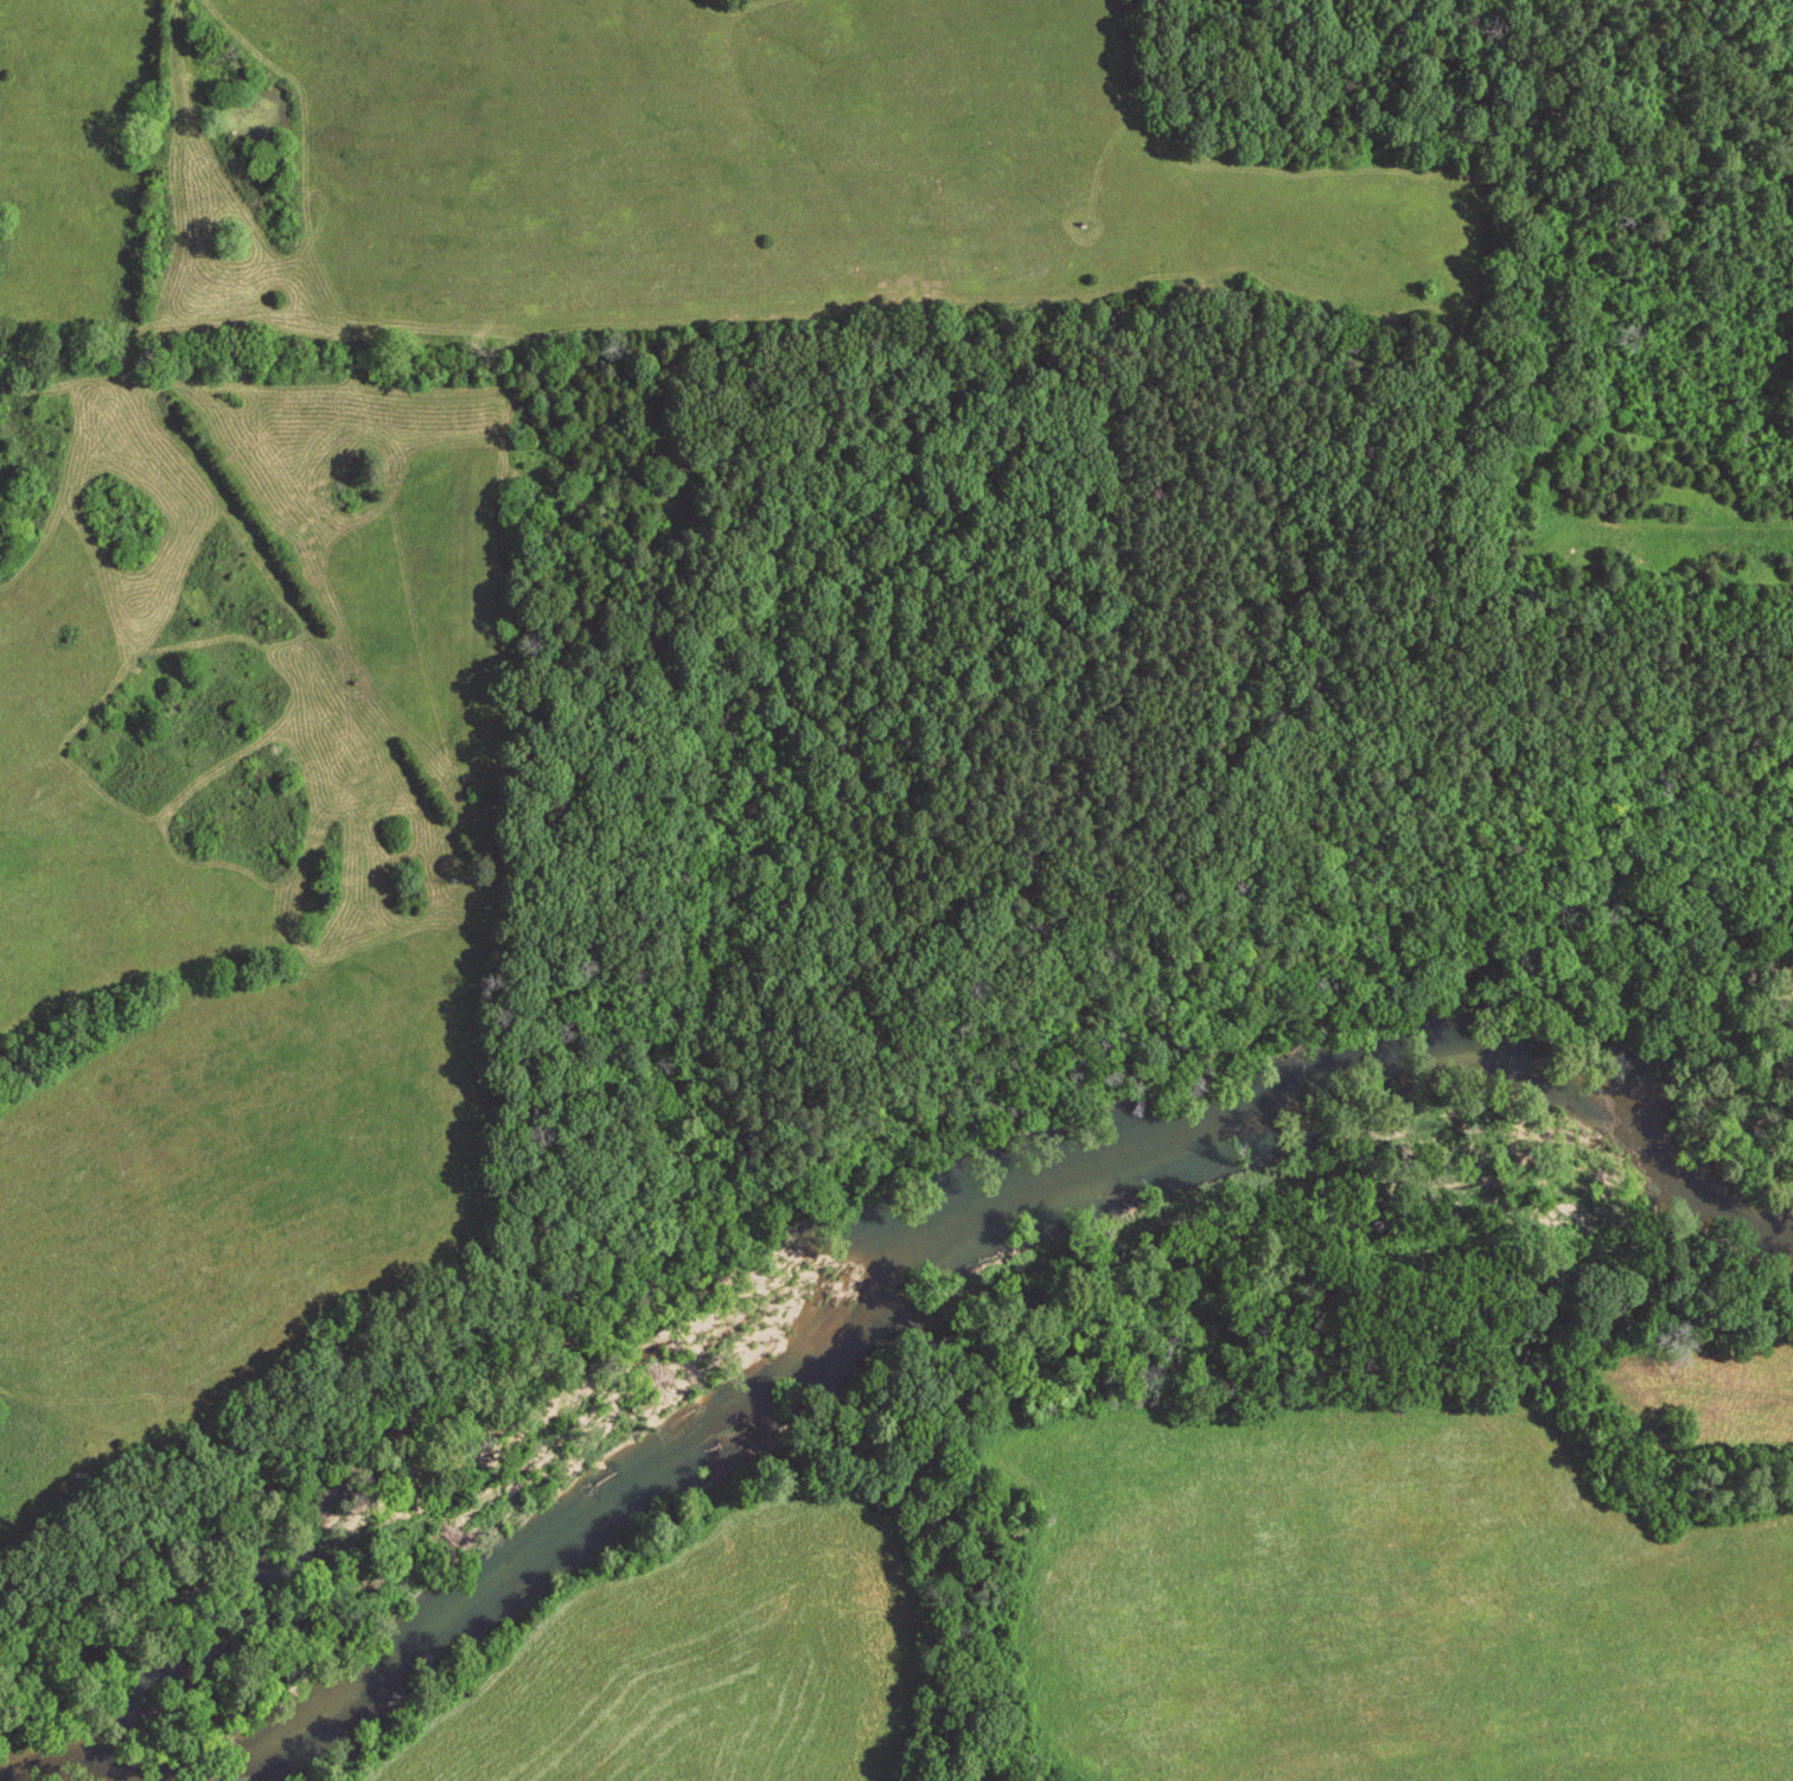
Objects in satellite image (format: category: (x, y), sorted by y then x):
road: (166, 52)
river: (895, 1296)

